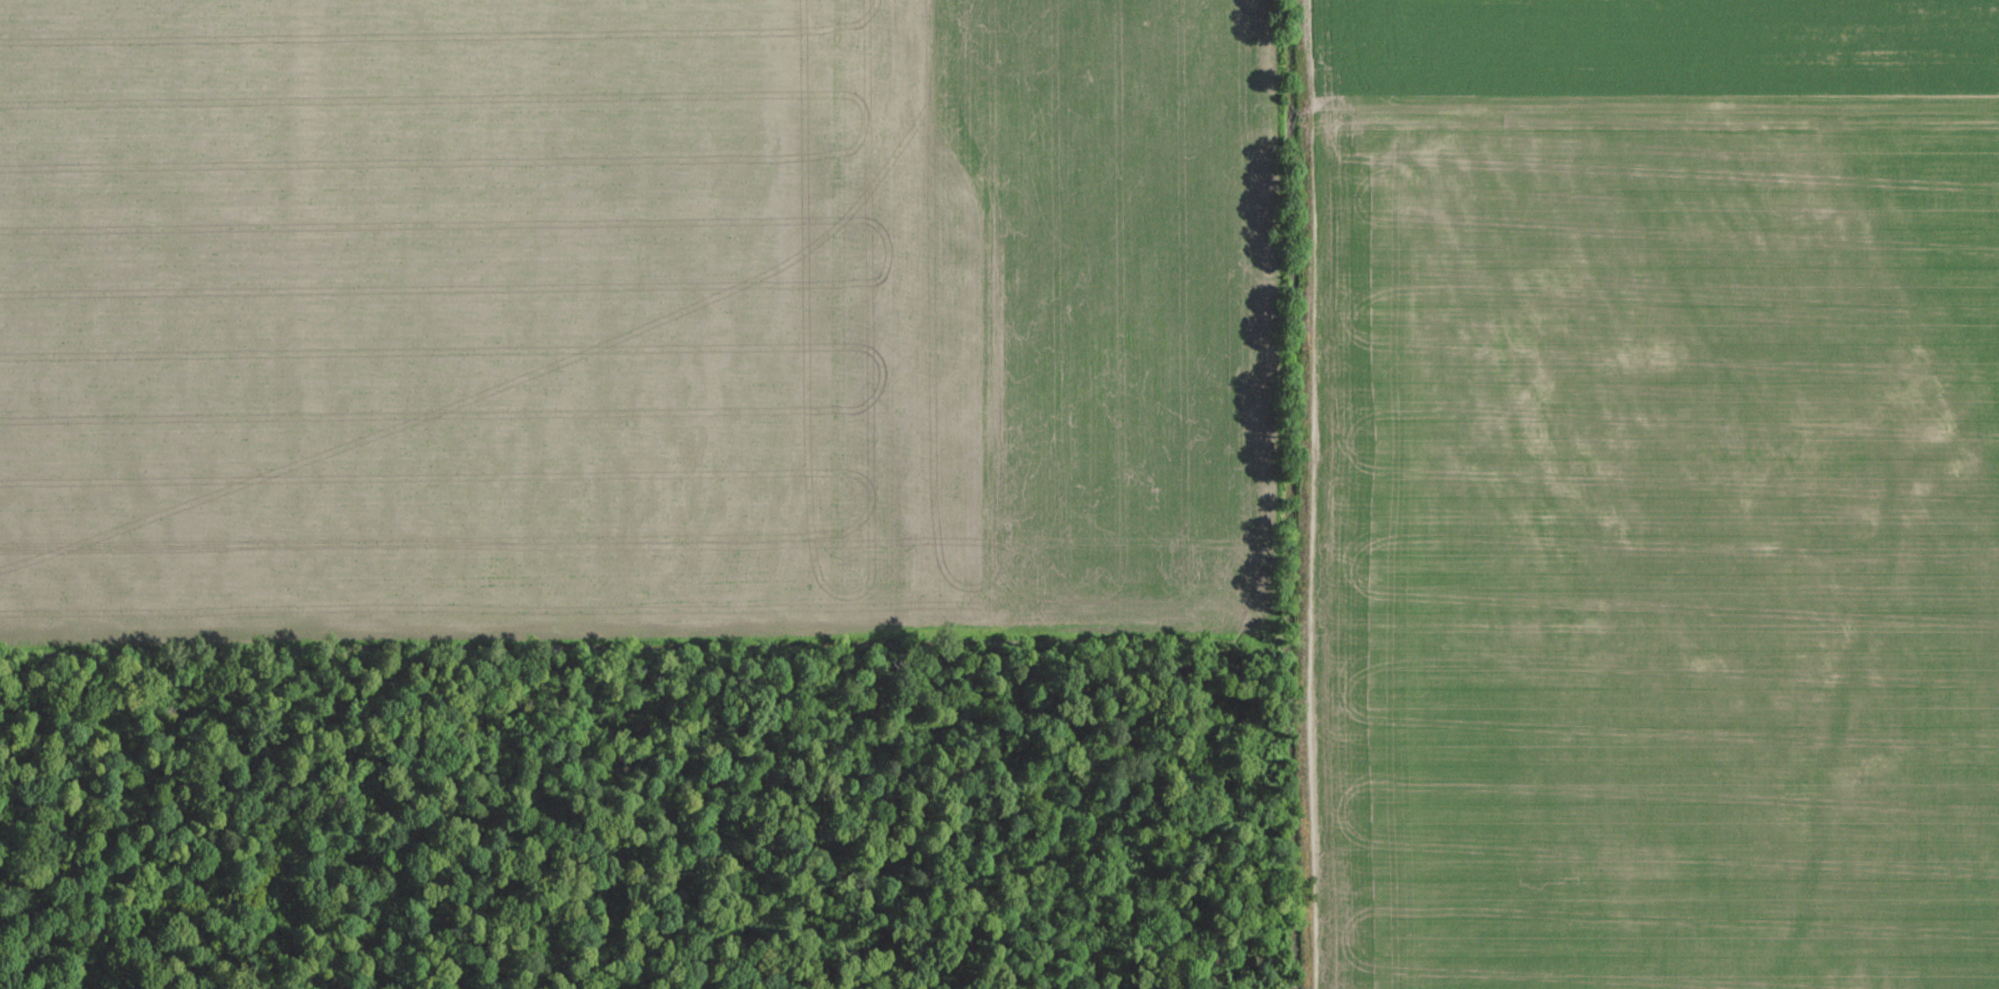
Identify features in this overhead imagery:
park: (643, 818)

